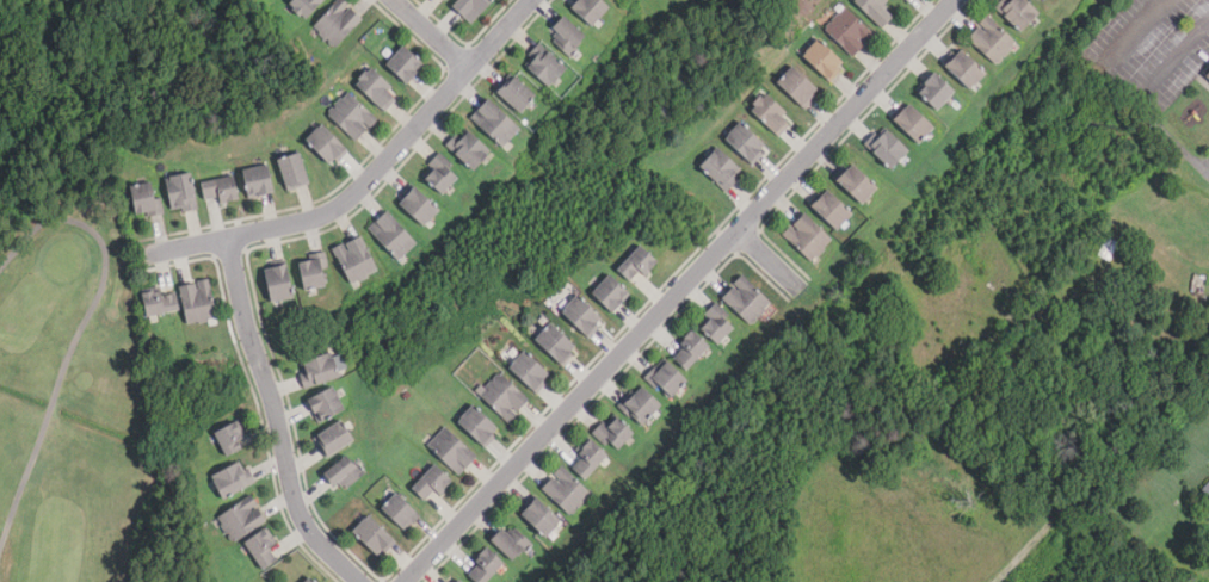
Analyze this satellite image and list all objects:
building: (306, 6)
building: (473, 7)
building: (592, 10)
building: (877, 11)
building: (1019, 12)
building: (338, 21)
road: (432, 31)
building: (850, 31)
road: (1134, 31)
building: (568, 35)
building: (992, 39)
road: (1178, 55)
building: (825, 60)
building: (407, 63)
building: (548, 66)
building: (967, 68)
building: (1207, 74)
building: (801, 86)
building: (378, 88)
building: (938, 89)
building: (519, 94)
building: (773, 113)
building: (353, 116)
building: (496, 122)
building: (915, 123)
road: (1170, 136)
building: (747, 142)
building: (329, 143)
building: (889, 147)
building: (470, 148)
building: (722, 168)
building: (295, 171)
building: (442, 173)
building: (260, 180)
road: (365, 180)
building: (858, 182)
building: (222, 190)
building: (183, 192)
building: (146, 198)
building: (421, 206)
building: (833, 209)
building: (394, 235)
building: (807, 236)
building: (356, 259)
road: (765, 259)
building: (639, 265)
building: (314, 273)
building: (280, 284)
road: (678, 290)
building: (613, 292)
building: (746, 299)
building: (198, 302)
building: (161, 303)
building: (585, 316)
building: (717, 323)
road: (78, 334)
building: (557, 343)
building: (691, 351)
park: (75, 370)
building: (319, 370)
building: (531, 371)
building: (668, 377)
building: (505, 397)
building: (326, 404)
building: (642, 404)
road: (276, 419)
building: (480, 425)
building: (616, 432)
building: (232, 438)
building: (335, 438)
building: (454, 450)
building: (590, 459)
building: (341, 471)
building: (232, 481)
building: (433, 482)
building: (1205, 488)
building: (566, 490)
building: (401, 510)
building: (542, 516)
building: (242, 519)
building: (375, 534)
building: (510, 541)
building: (264, 547)
building: (486, 566)
building: (311, 580)
building: (459, 581)

